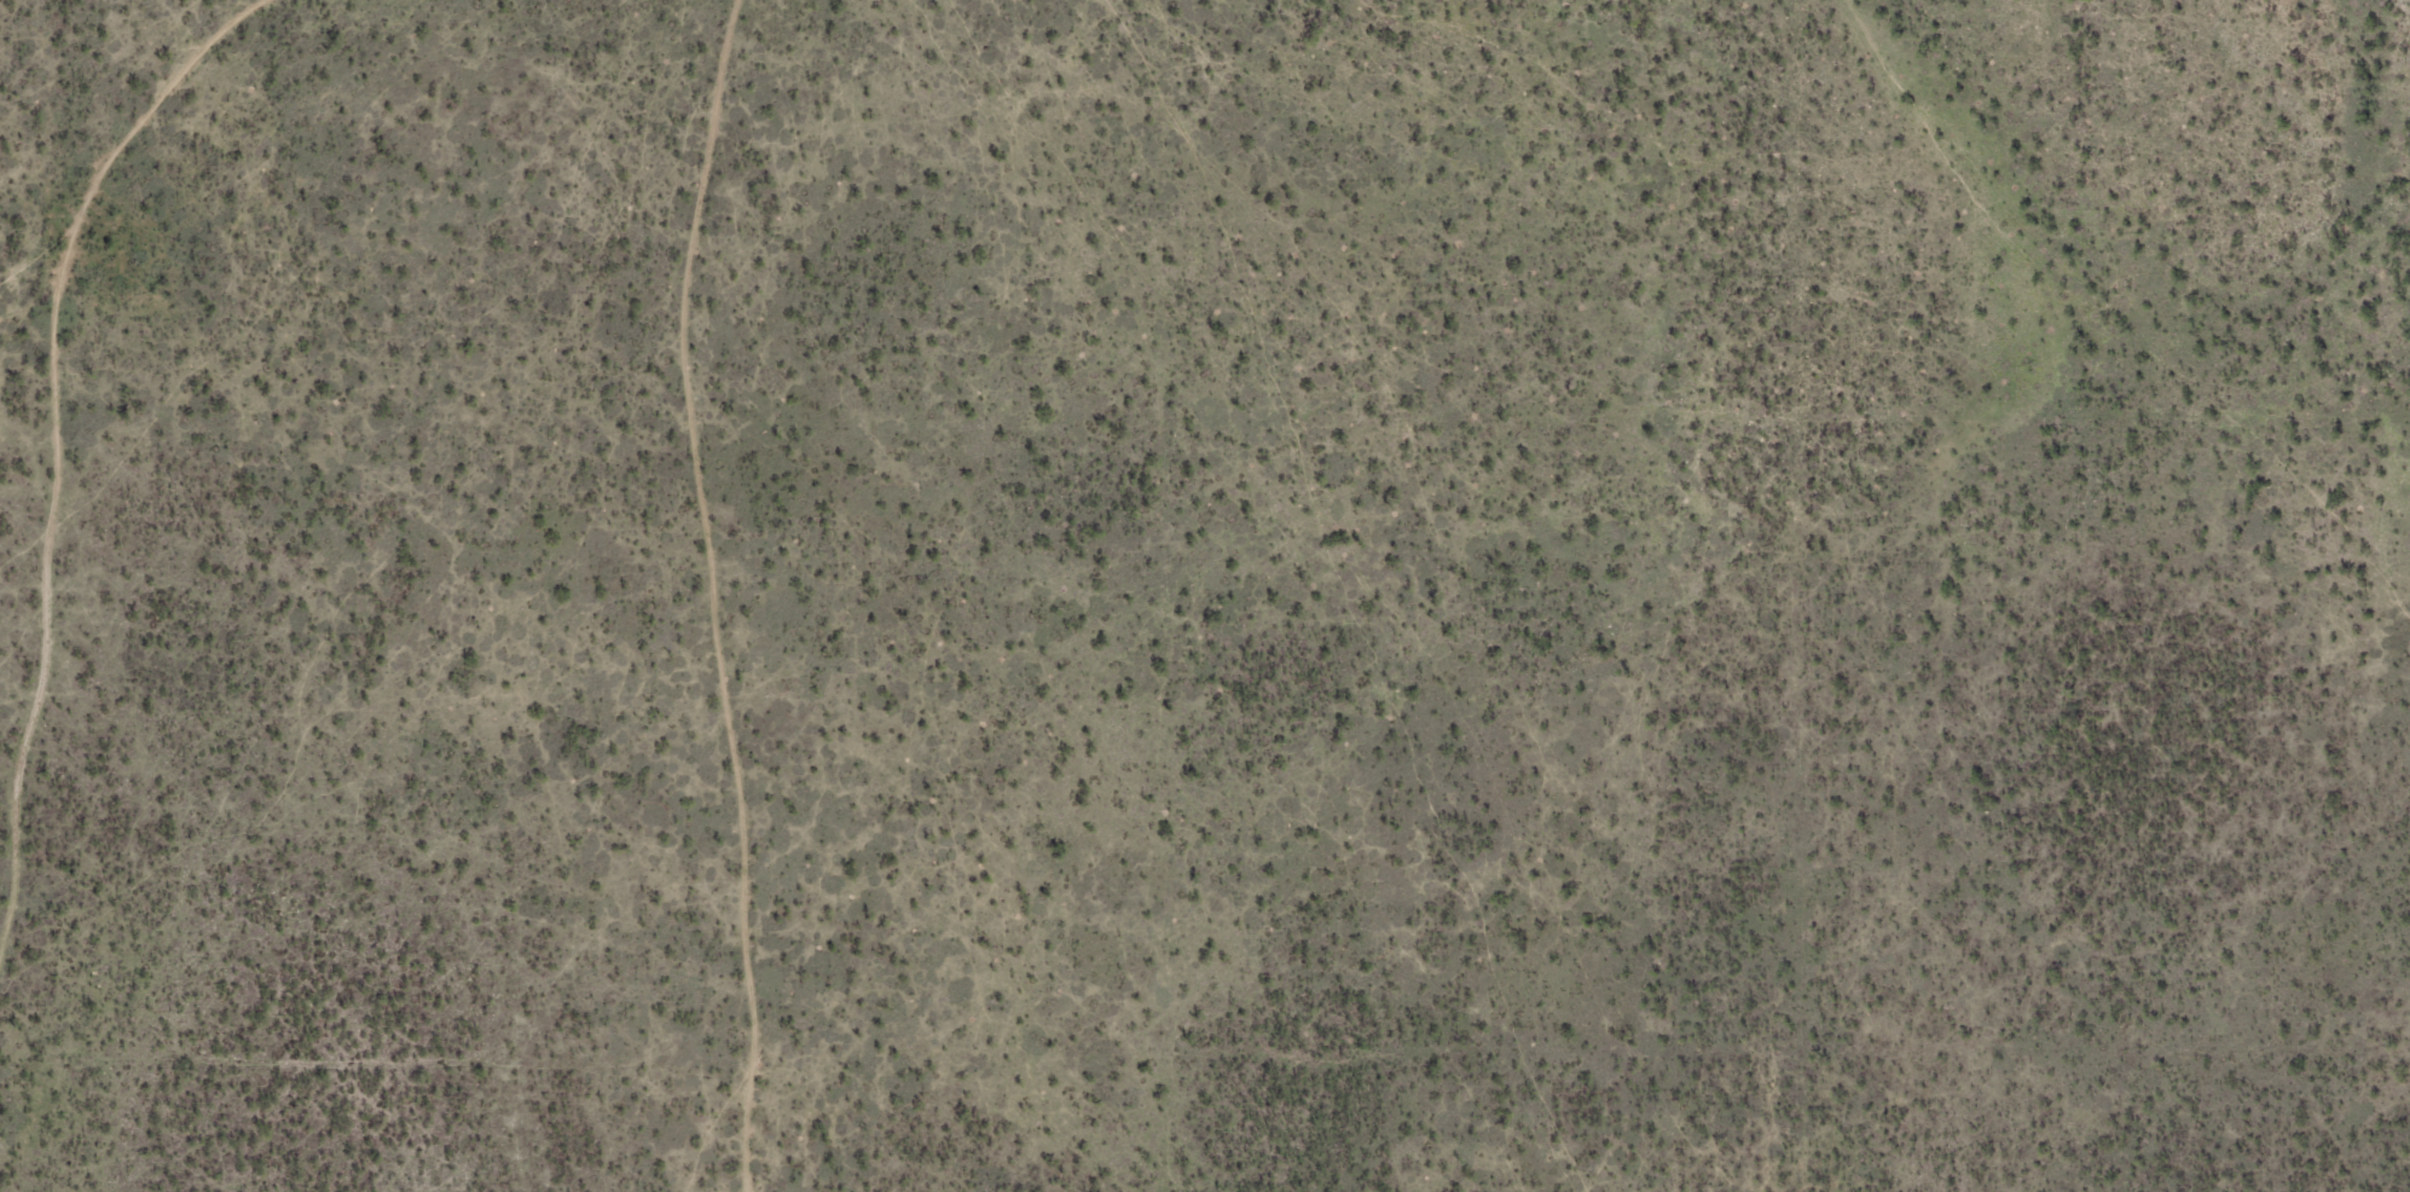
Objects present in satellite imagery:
road: (747, 595)
road: (446, 620)

